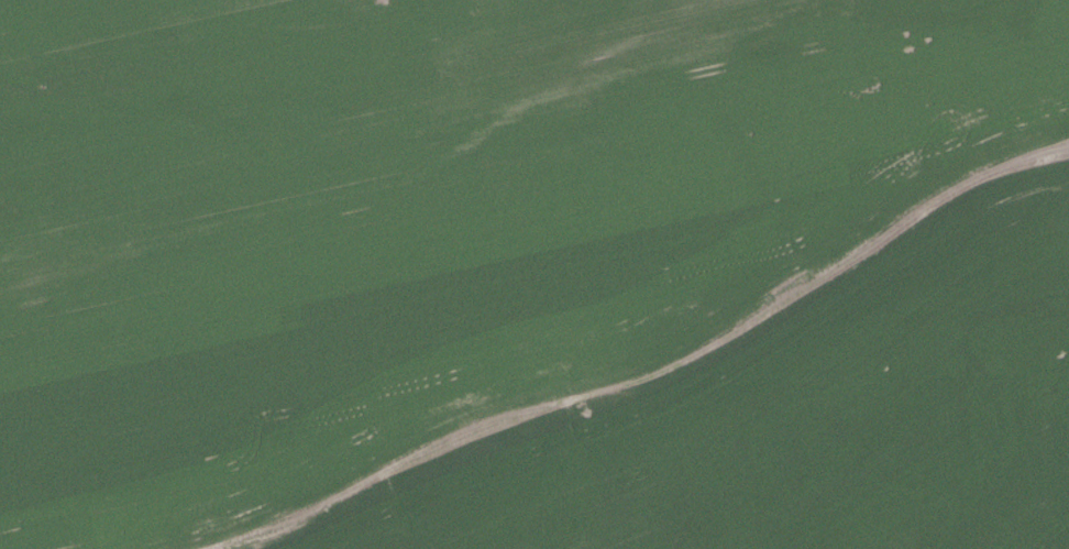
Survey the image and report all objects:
crop: (432, 219)

